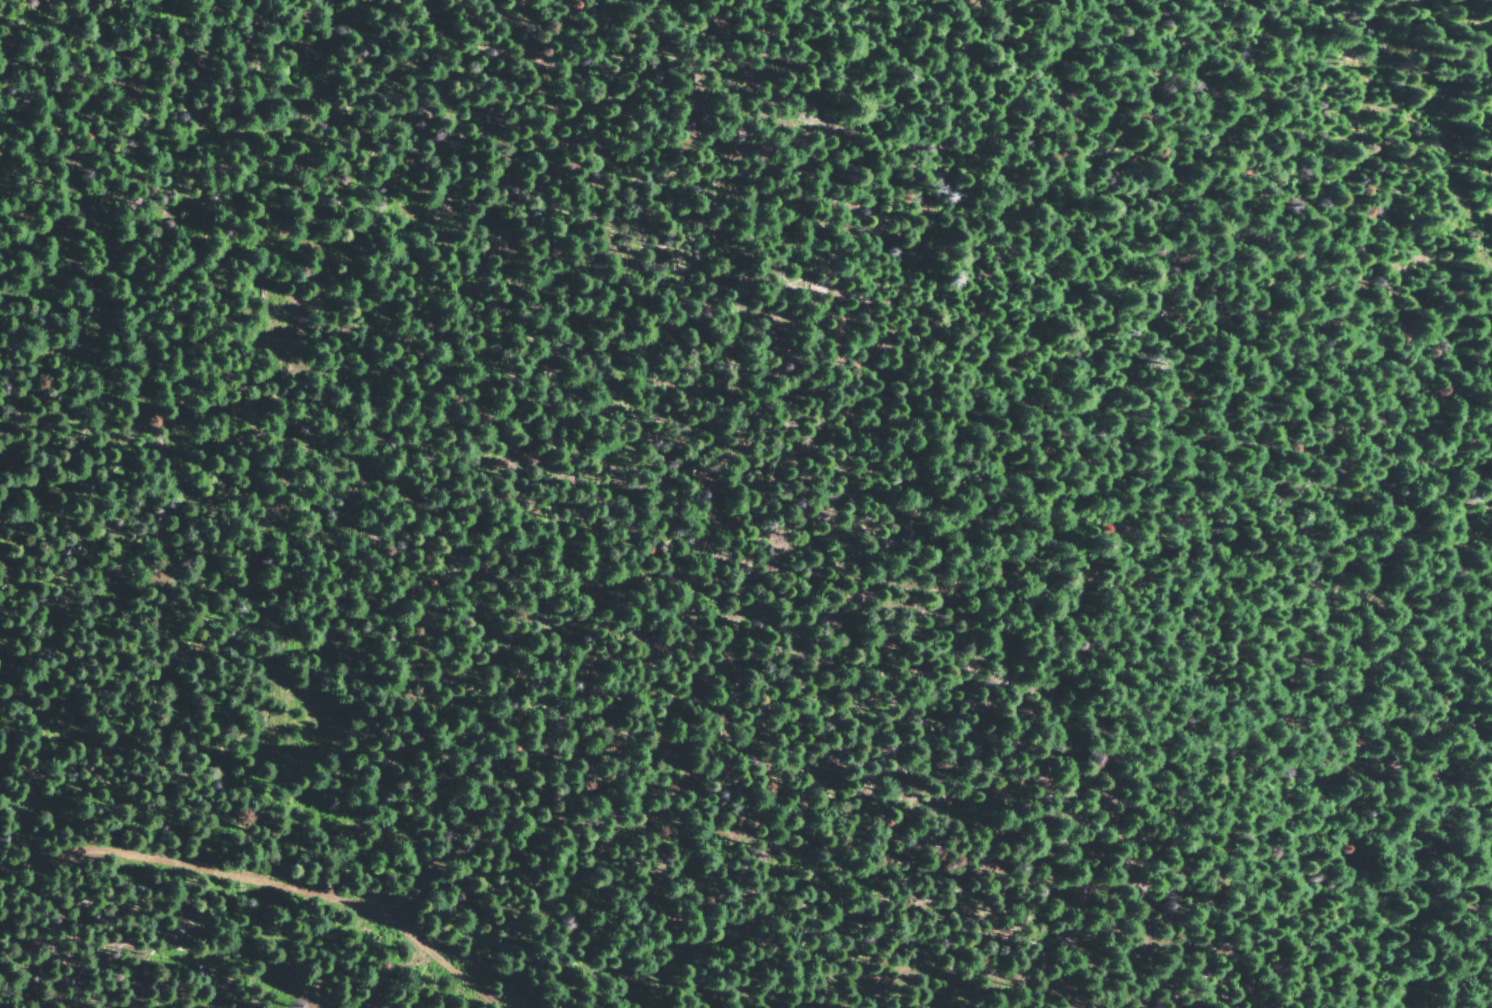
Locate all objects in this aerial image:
road: (309, 774)

